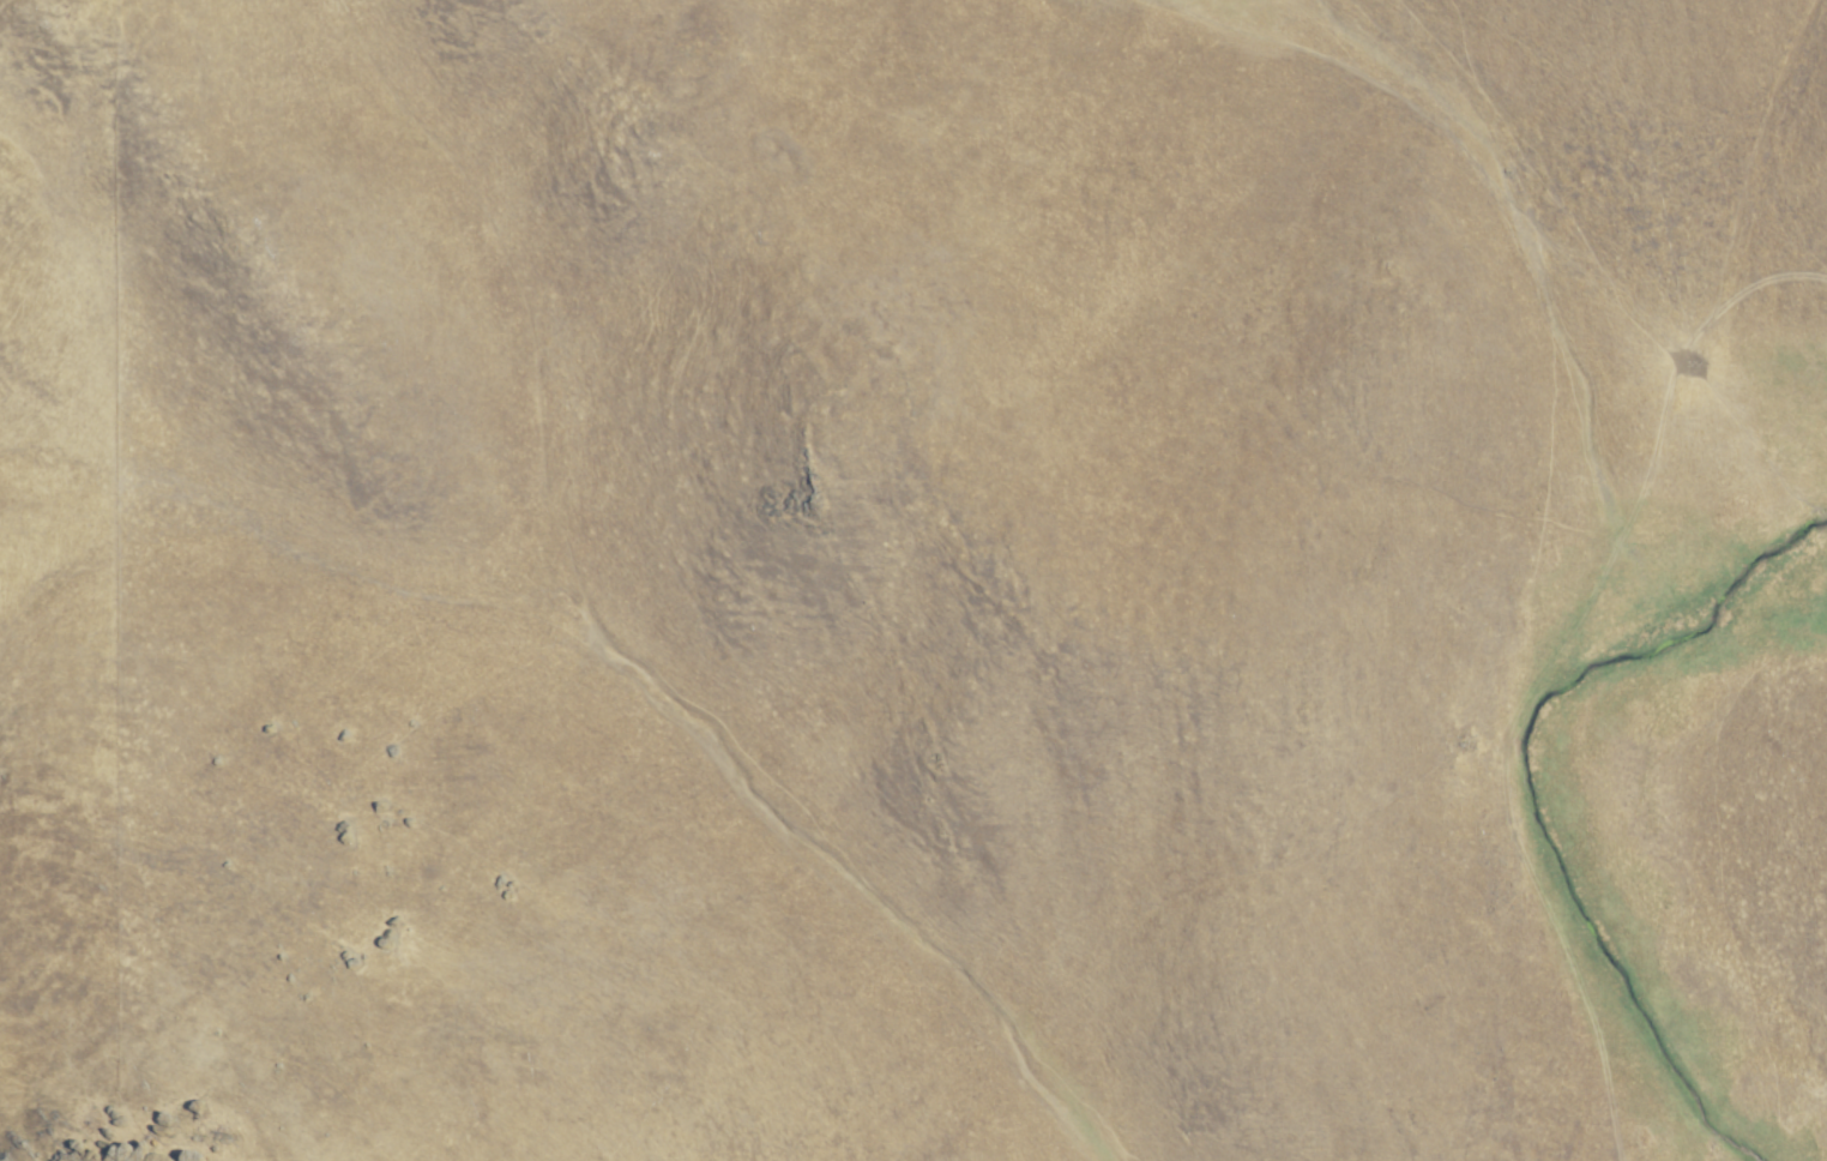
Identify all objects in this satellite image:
road: (1487, 702)

